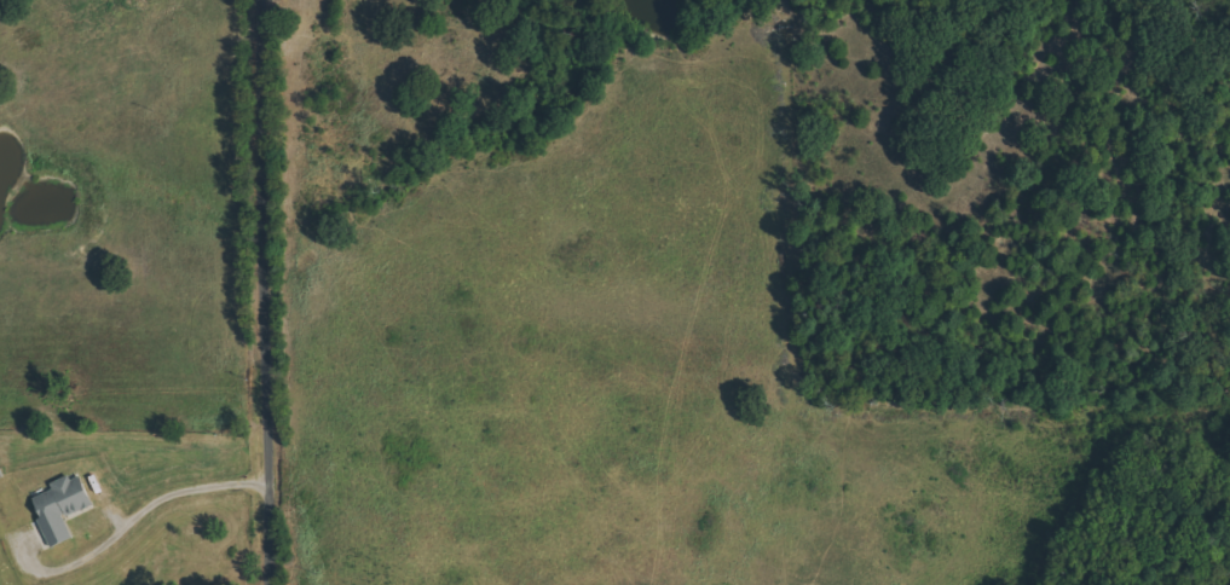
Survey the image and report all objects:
road: (270, 291)
road: (148, 500)
building: (65, 506)

